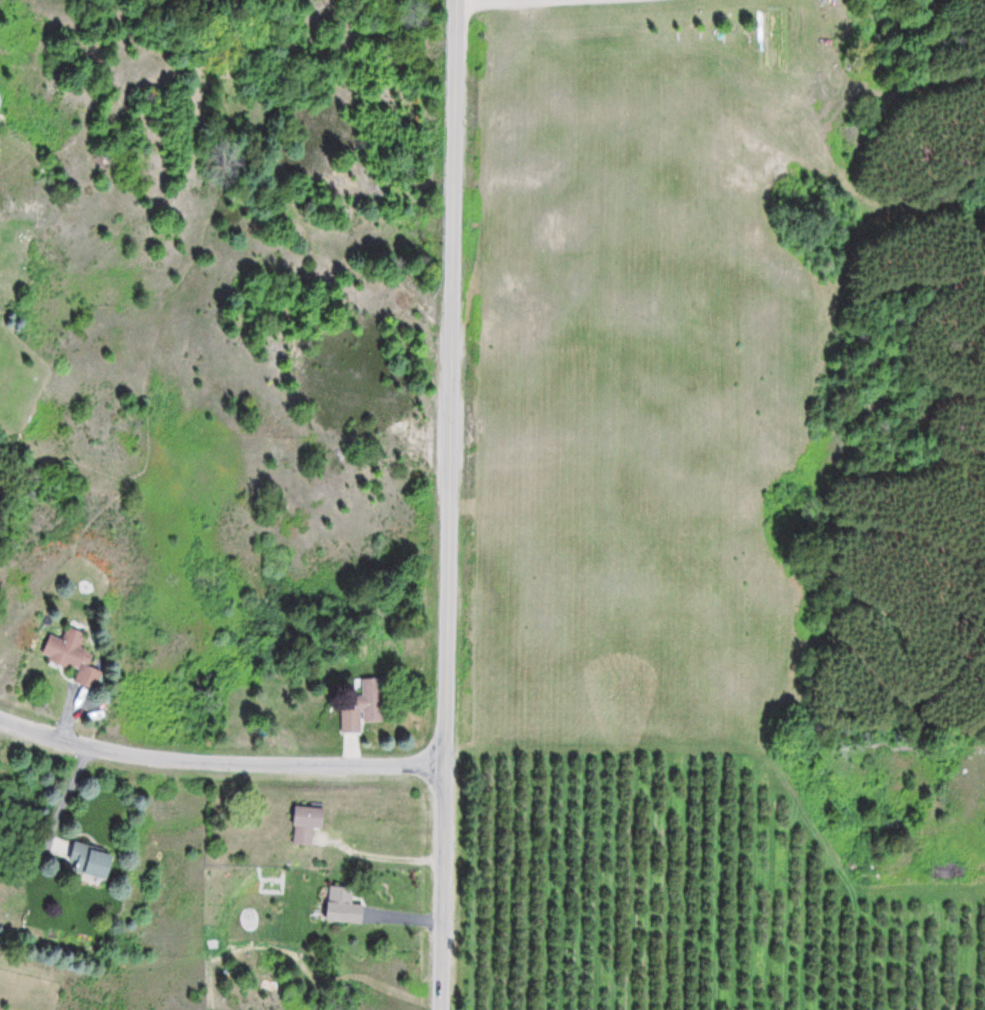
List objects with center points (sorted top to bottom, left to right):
road: (448, 504)
building: (73, 658)
building: (364, 705)
road: (218, 761)
building: (306, 823)
building: (90, 860)
building: (340, 904)

